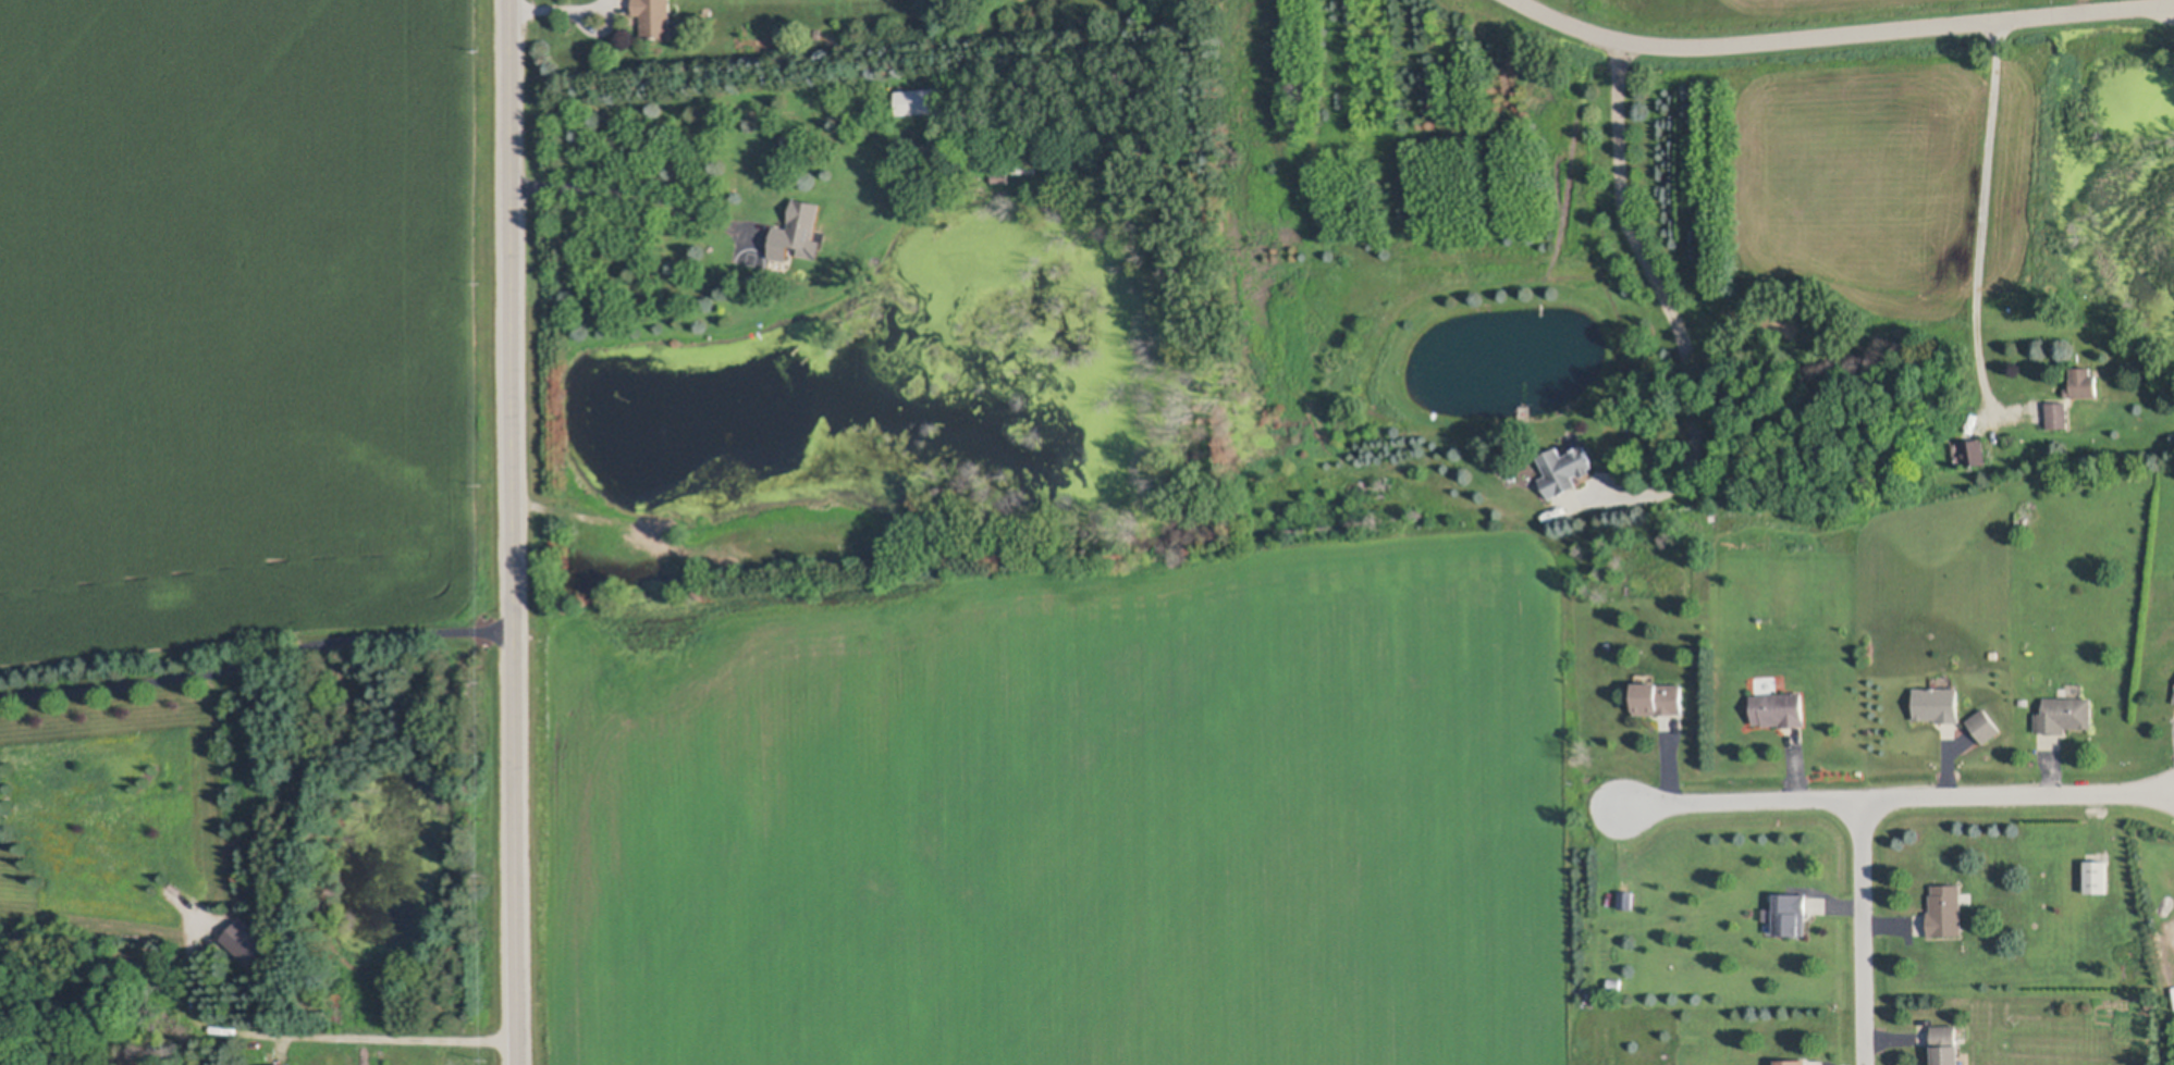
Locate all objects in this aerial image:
road: (595, 7)
building: (655, 17)
road: (1842, 34)
building: (920, 100)
building: (1024, 168)
building: (1002, 178)
road: (635, 195)
road: (1983, 211)
building: (797, 232)
road: (1665, 295)
building: (2085, 382)
building: (2058, 413)
building: (1975, 451)
building: (1563, 468)
road: (513, 532)
road: (257, 660)
building: (1660, 698)
building: (1938, 704)
building: (1780, 709)
building: (2065, 715)
building: (1986, 727)
road: (2017, 795)
road: (1862, 810)
building: (2098, 876)
building: (1626, 901)
building: (1946, 911)
building: (1792, 915)
building: (247, 942)
road: (348, 1035)
building: (1946, 1045)
building: (1794, 1062)
building: (287, 1064)

